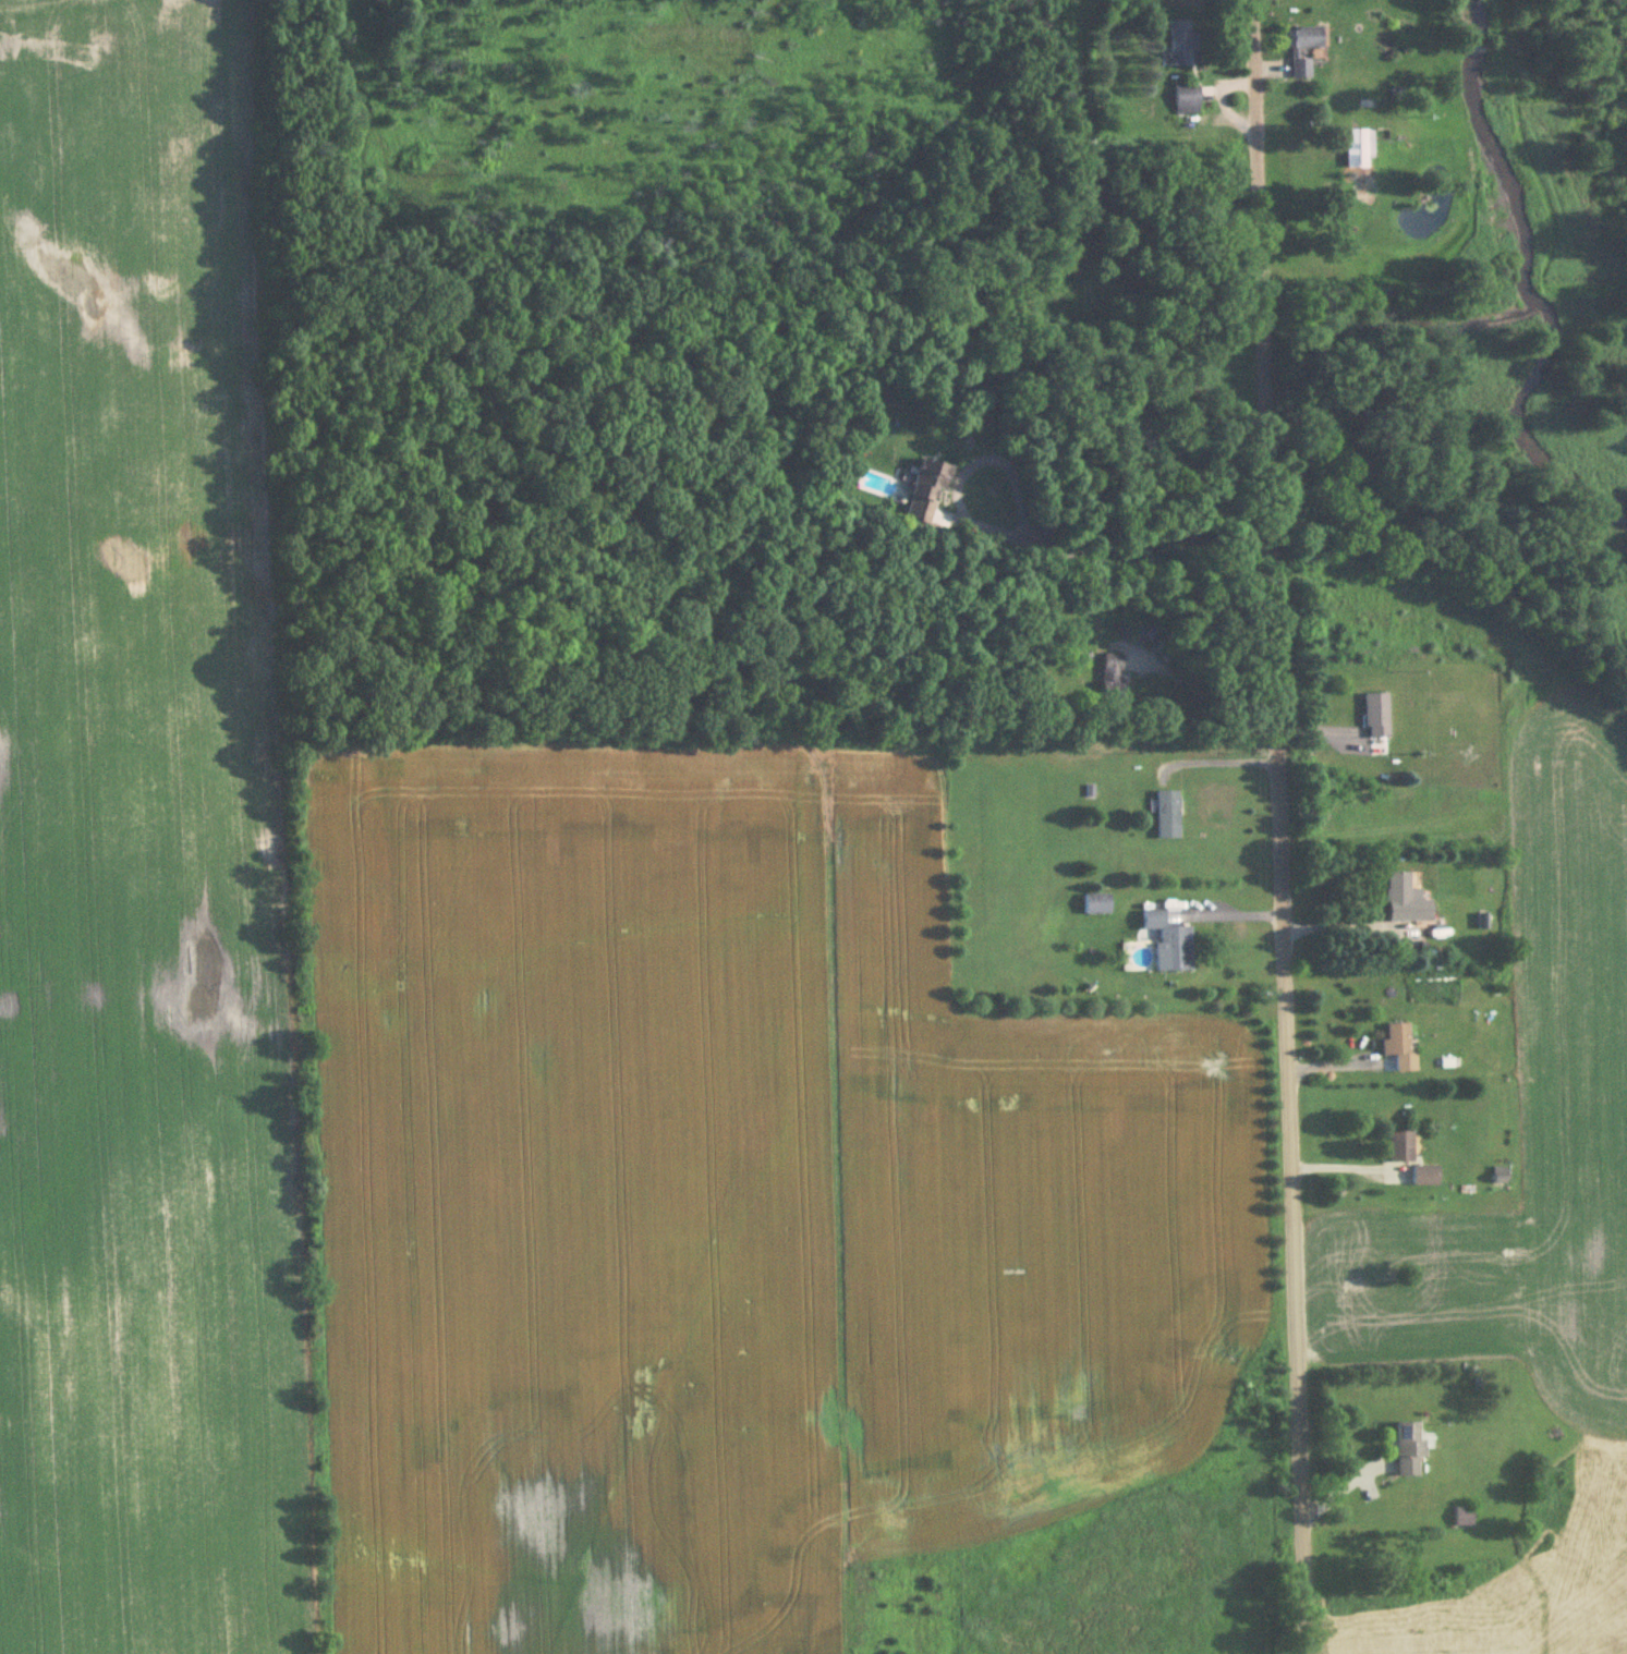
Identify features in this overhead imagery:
building: (1182, 46)
building: (1302, 50)
building: (1187, 101)
building: (1358, 149)
building: (927, 494)
road: (1116, 539)
building: (1112, 676)
road: (1201, 691)
building: (1376, 717)
road: (1215, 765)
building: (1167, 815)
road: (1274, 826)
building: (1406, 901)
building: (1095, 904)
road: (1219, 910)
road: (1347, 926)
building: (1169, 944)
building: (1396, 1042)
building: (1401, 1148)
building: (1425, 1177)
building: (1409, 1449)
building: (1462, 1518)

